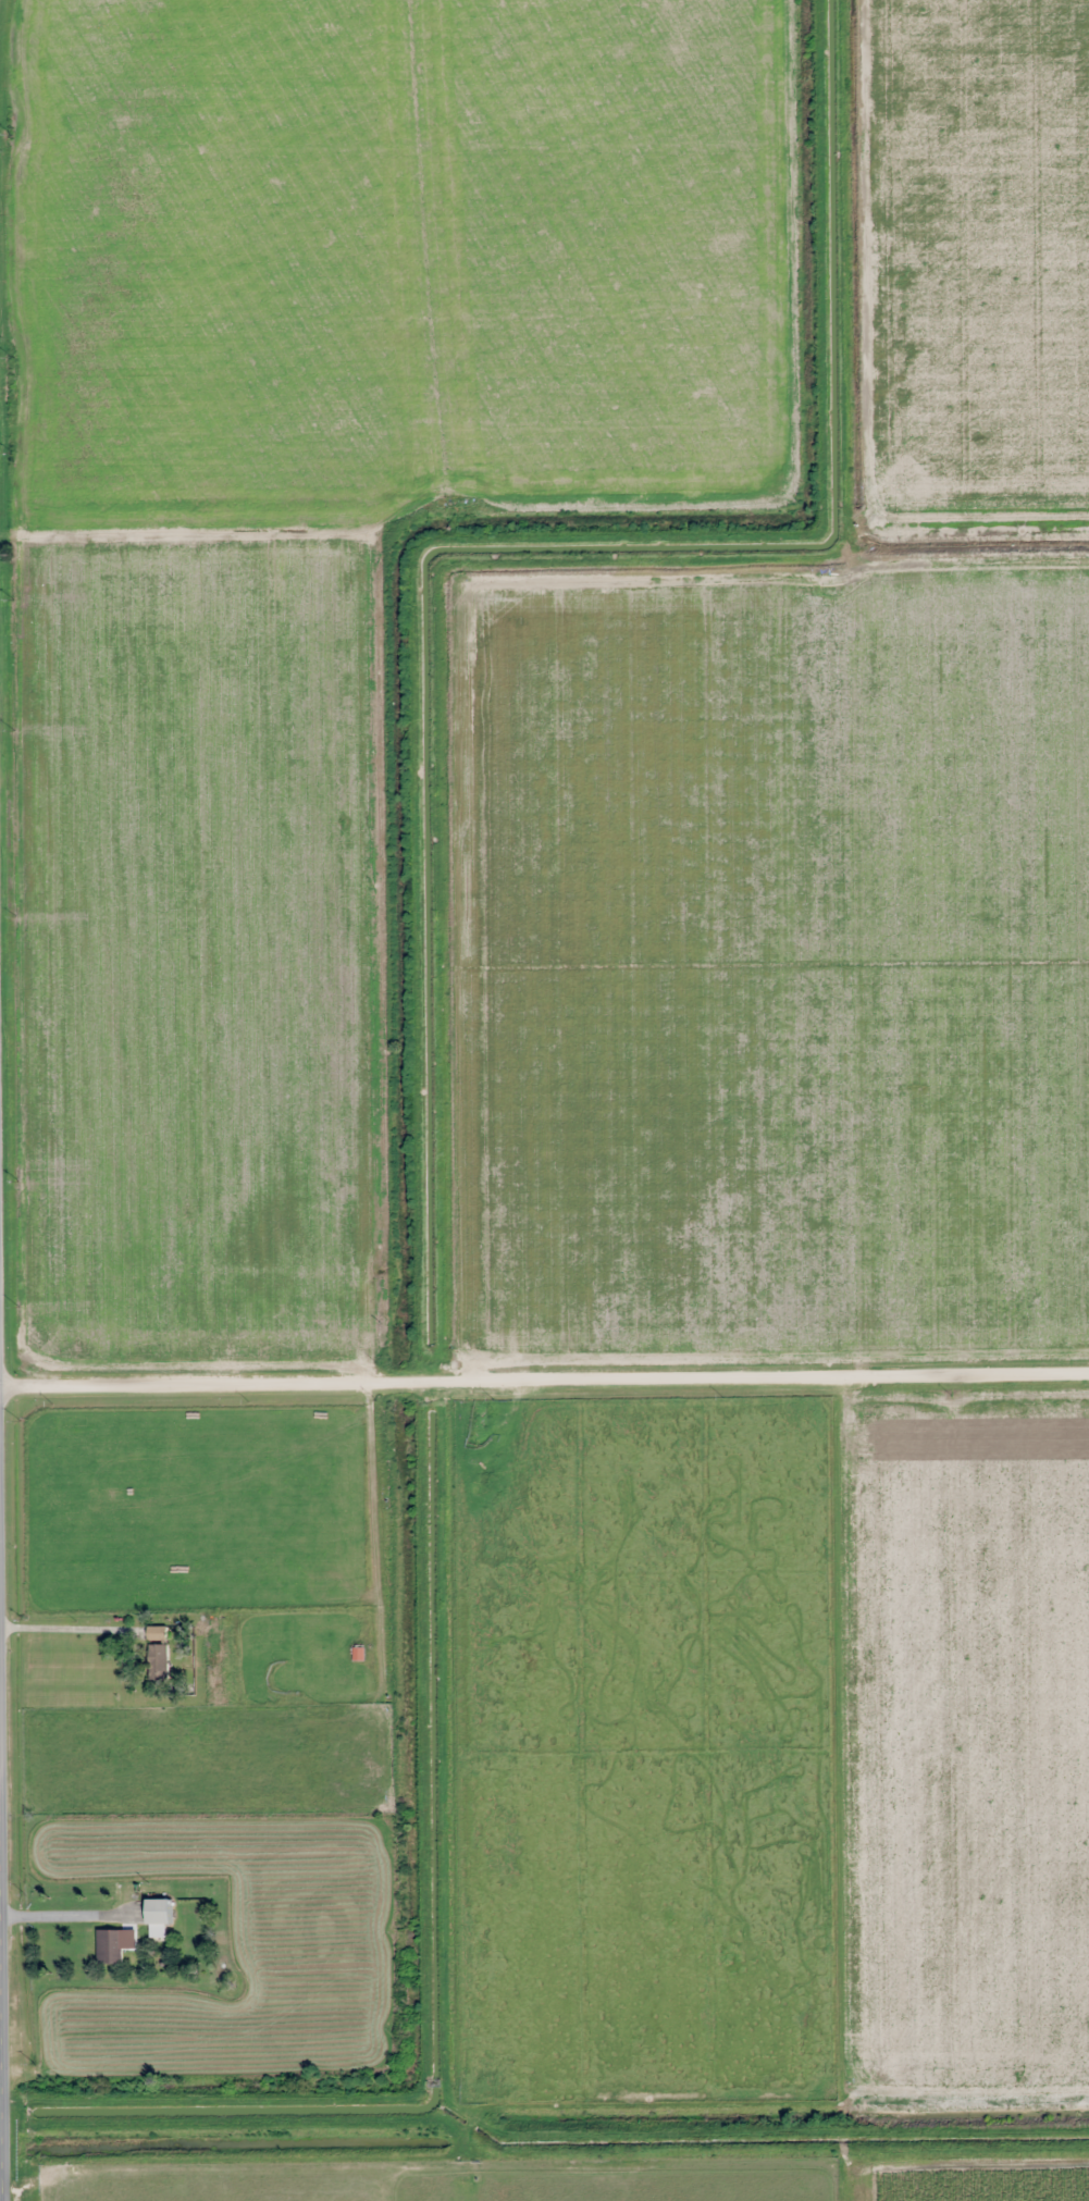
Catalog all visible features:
road: (544, 1382)
building: (157, 1633)
building: (158, 1662)
building: (158, 1911)
building: (109, 1945)
road: (1, 2051)

